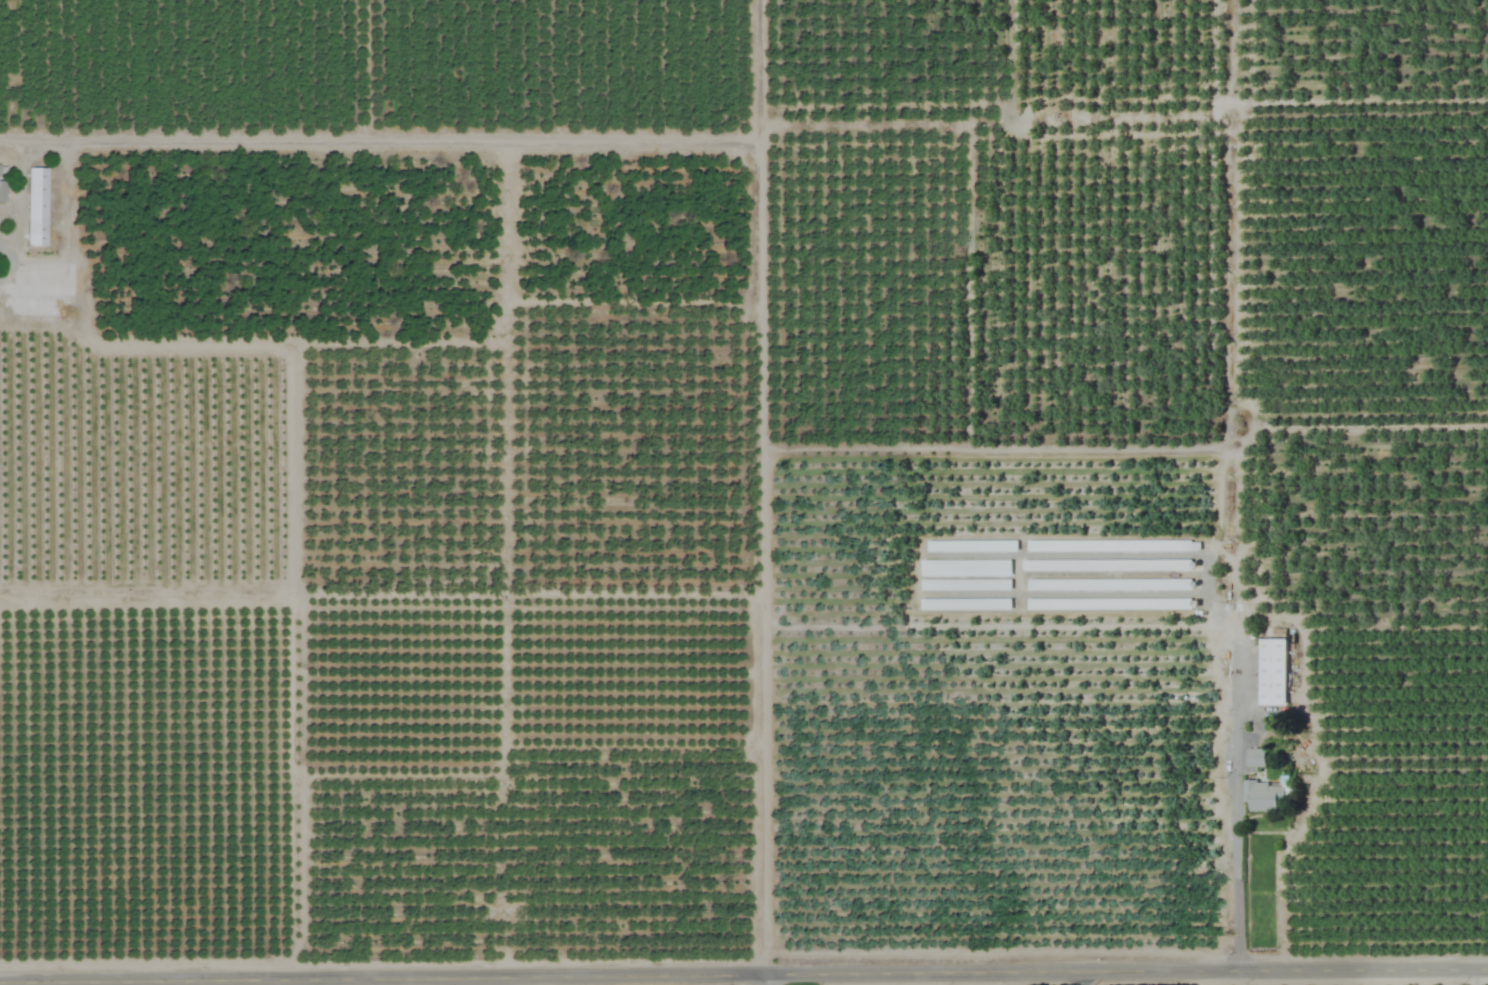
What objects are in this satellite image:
road: (15, 137)
building: (1, 191)
building: (34, 206)
road: (1, 257)
building: (1108, 545)
building: (1104, 564)
building: (1272, 671)
building: (1262, 796)
road: (1238, 813)
road: (849, 979)
road: (1082, 981)
road: (763, 982)

